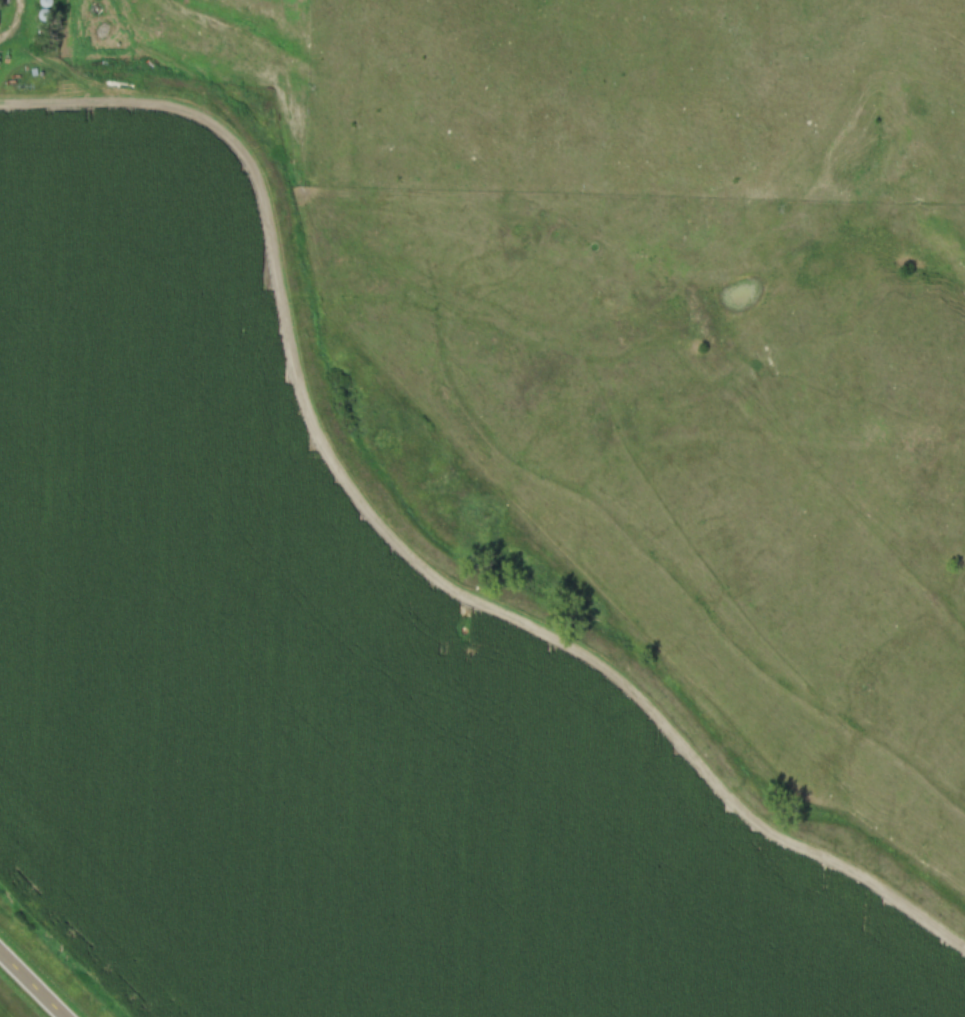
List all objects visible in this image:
road: (33, 983)

